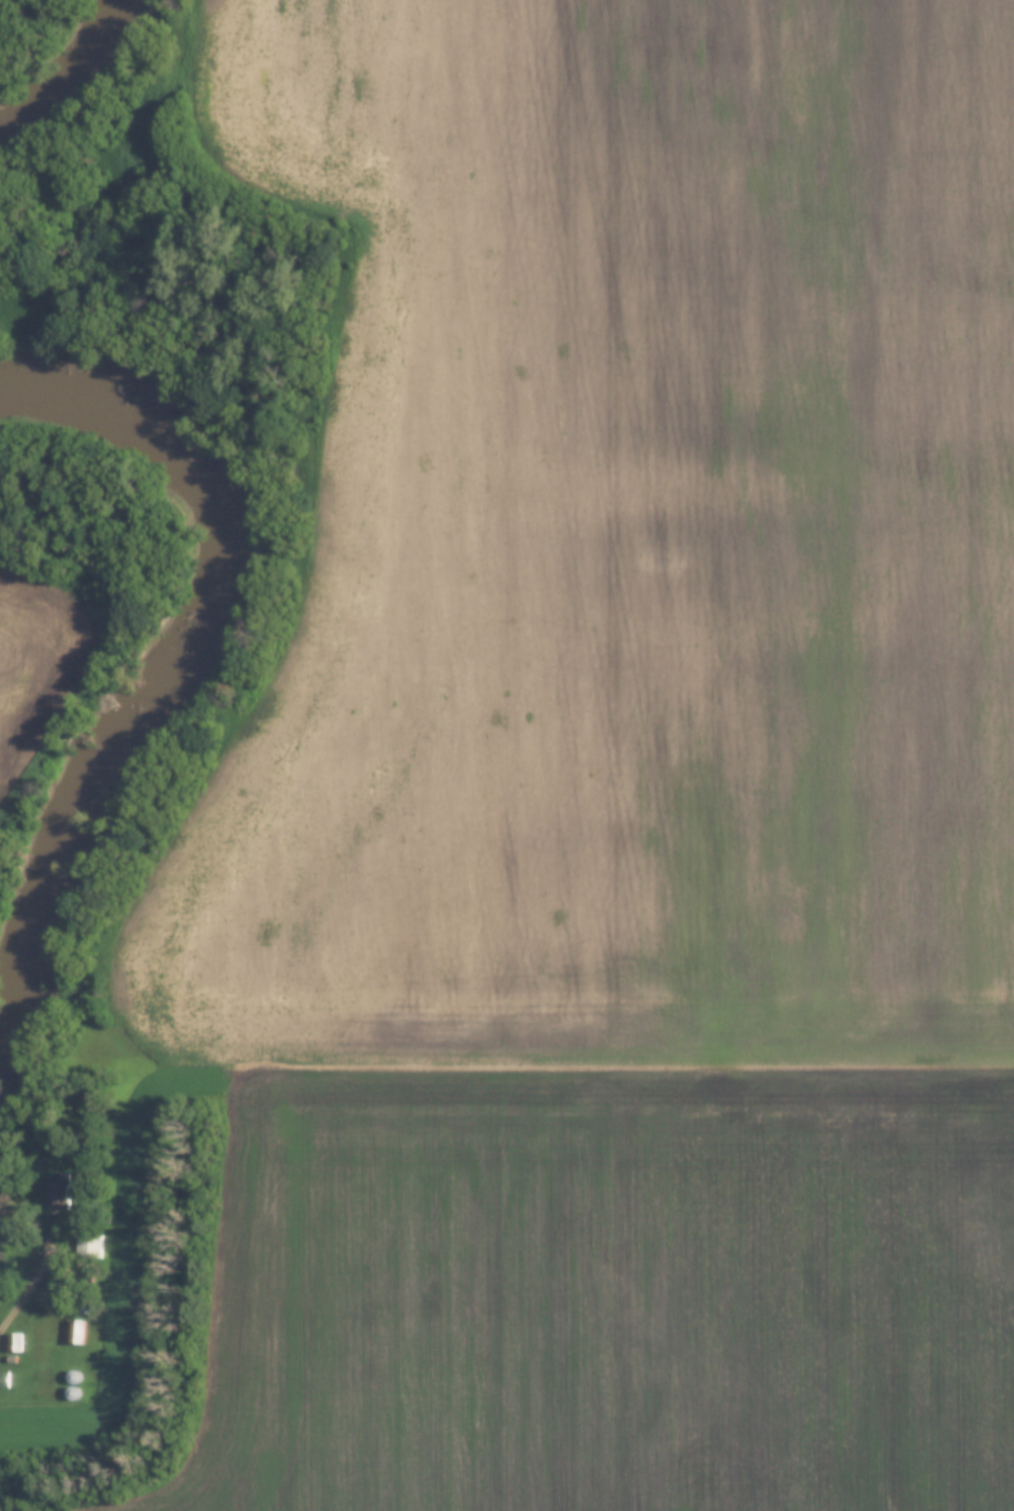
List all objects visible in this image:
river: (50, 45)
river: (169, 685)
building: (58, 1190)
building: (88, 1246)
road: (34, 1288)
building: (76, 1332)
building: (15, 1343)
building: (4, 1379)
building: (73, 1384)

